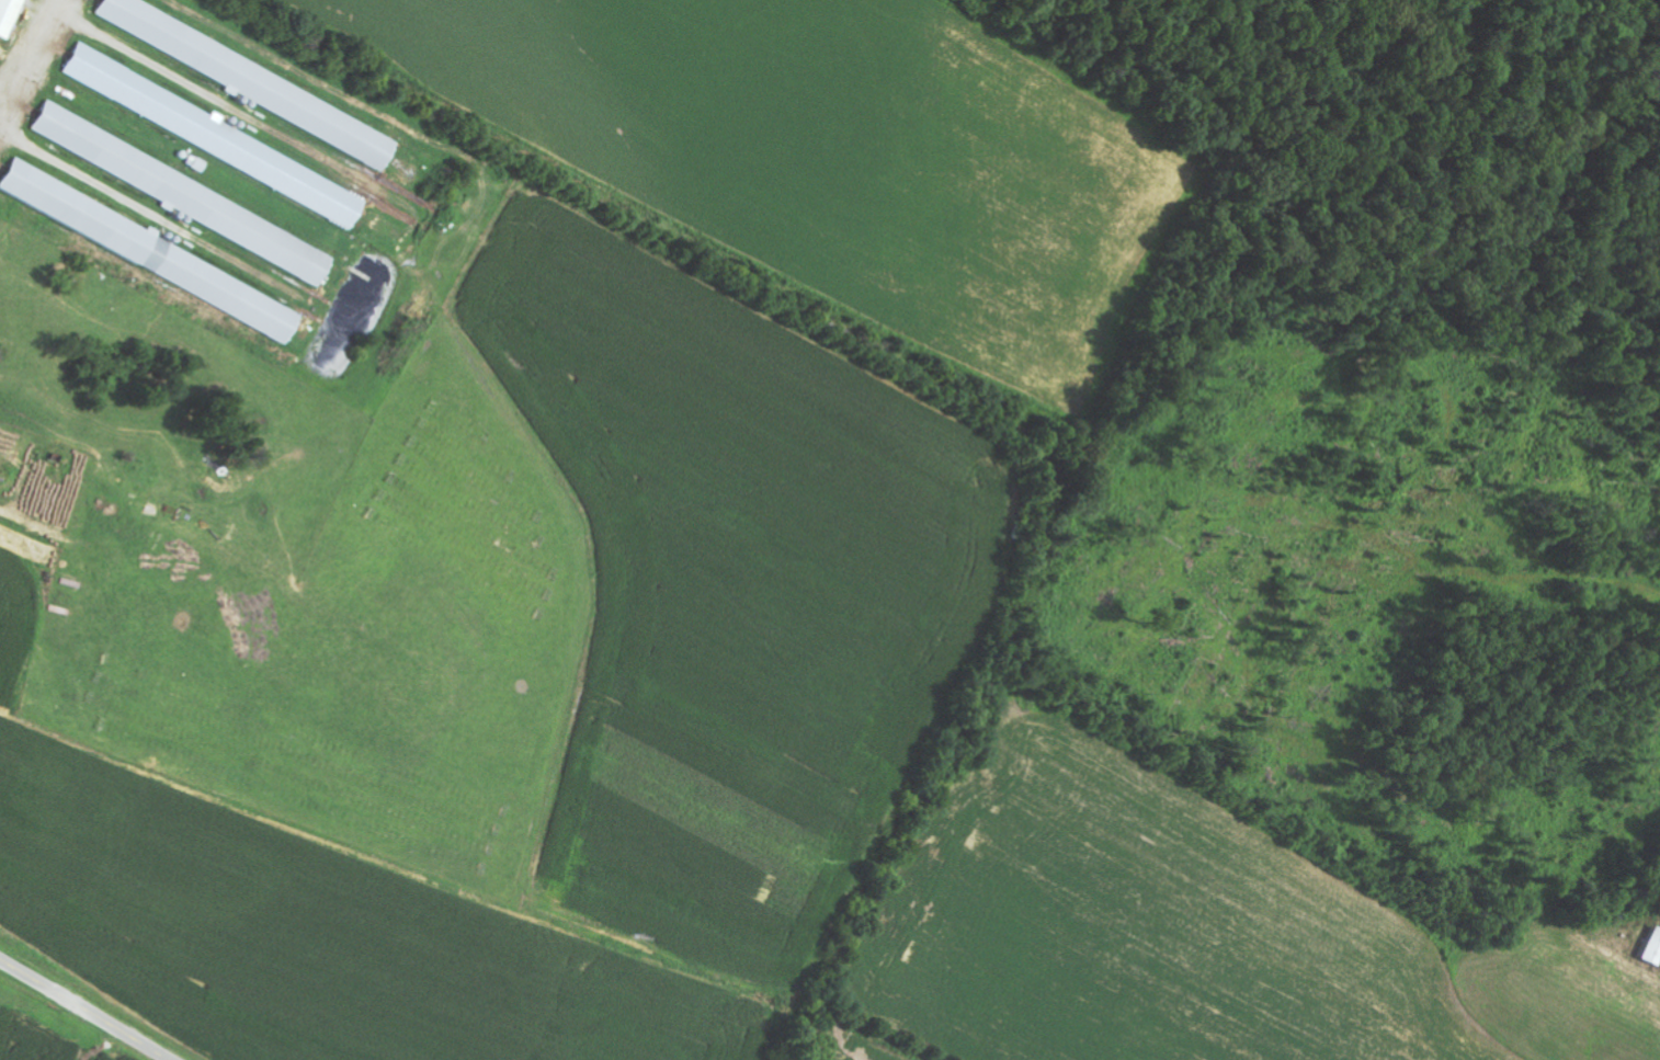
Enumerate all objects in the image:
building: (10, 15)
building: (258, 82)
building: (209, 132)
building: (193, 197)
building: (156, 251)
building: (1648, 947)
road: (84, 1010)

